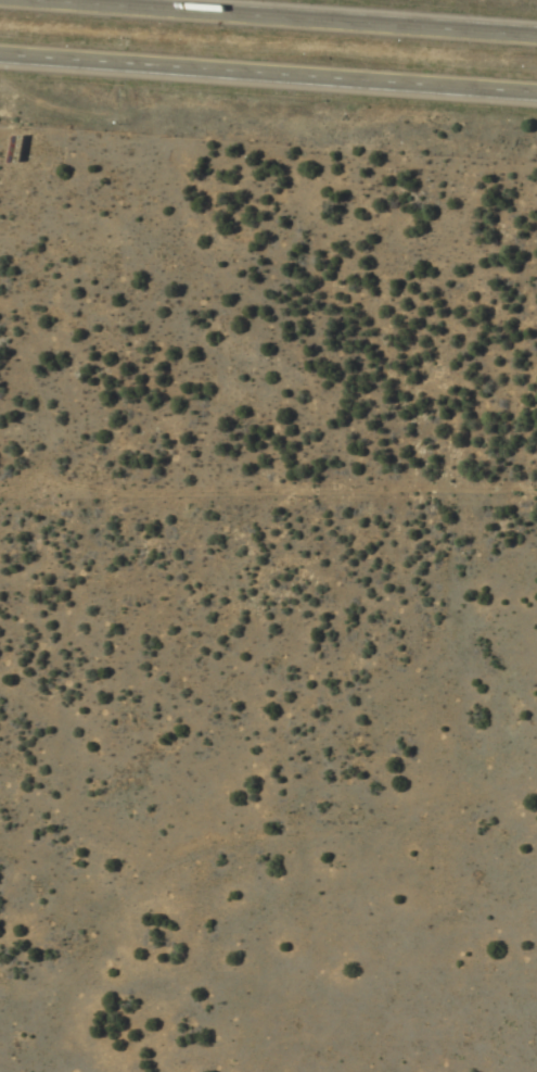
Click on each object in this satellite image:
road: (268, 22)
road: (268, 74)

